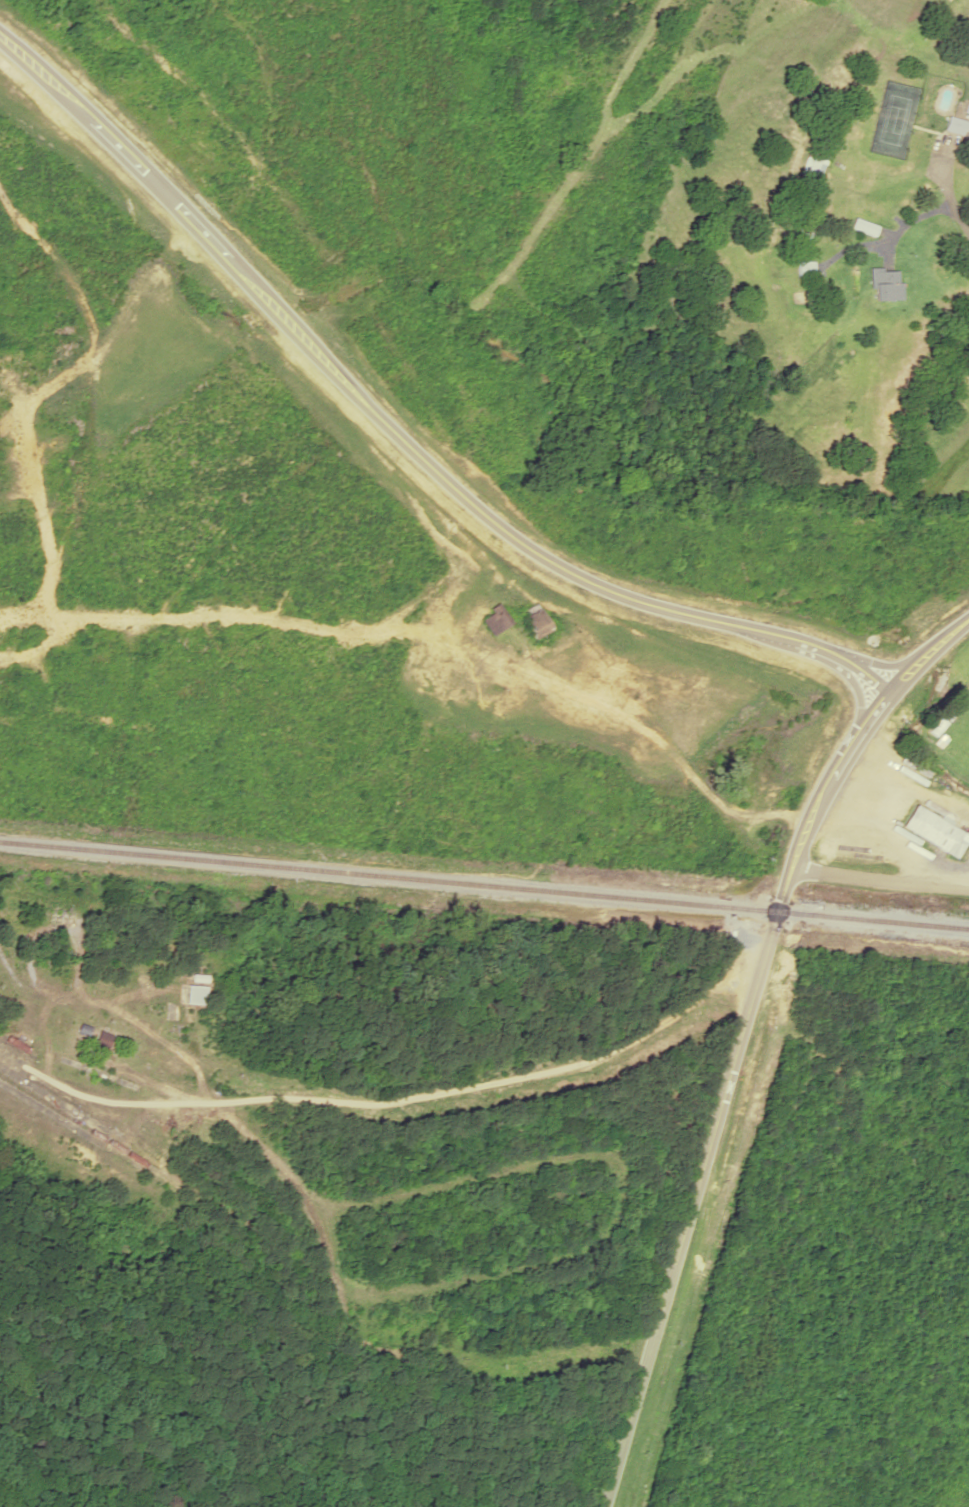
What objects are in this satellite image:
building: (959, 122)
building: (814, 162)
building: (863, 226)
building: (802, 239)
building: (804, 269)
building: (885, 285)
road: (384, 454)
building: (492, 618)
building: (533, 622)
building: (934, 831)
road: (879, 875)
railway: (484, 883)
building: (61, 917)
building: (194, 994)
road: (743, 1037)
building: (101, 1039)
road: (436, 1088)

